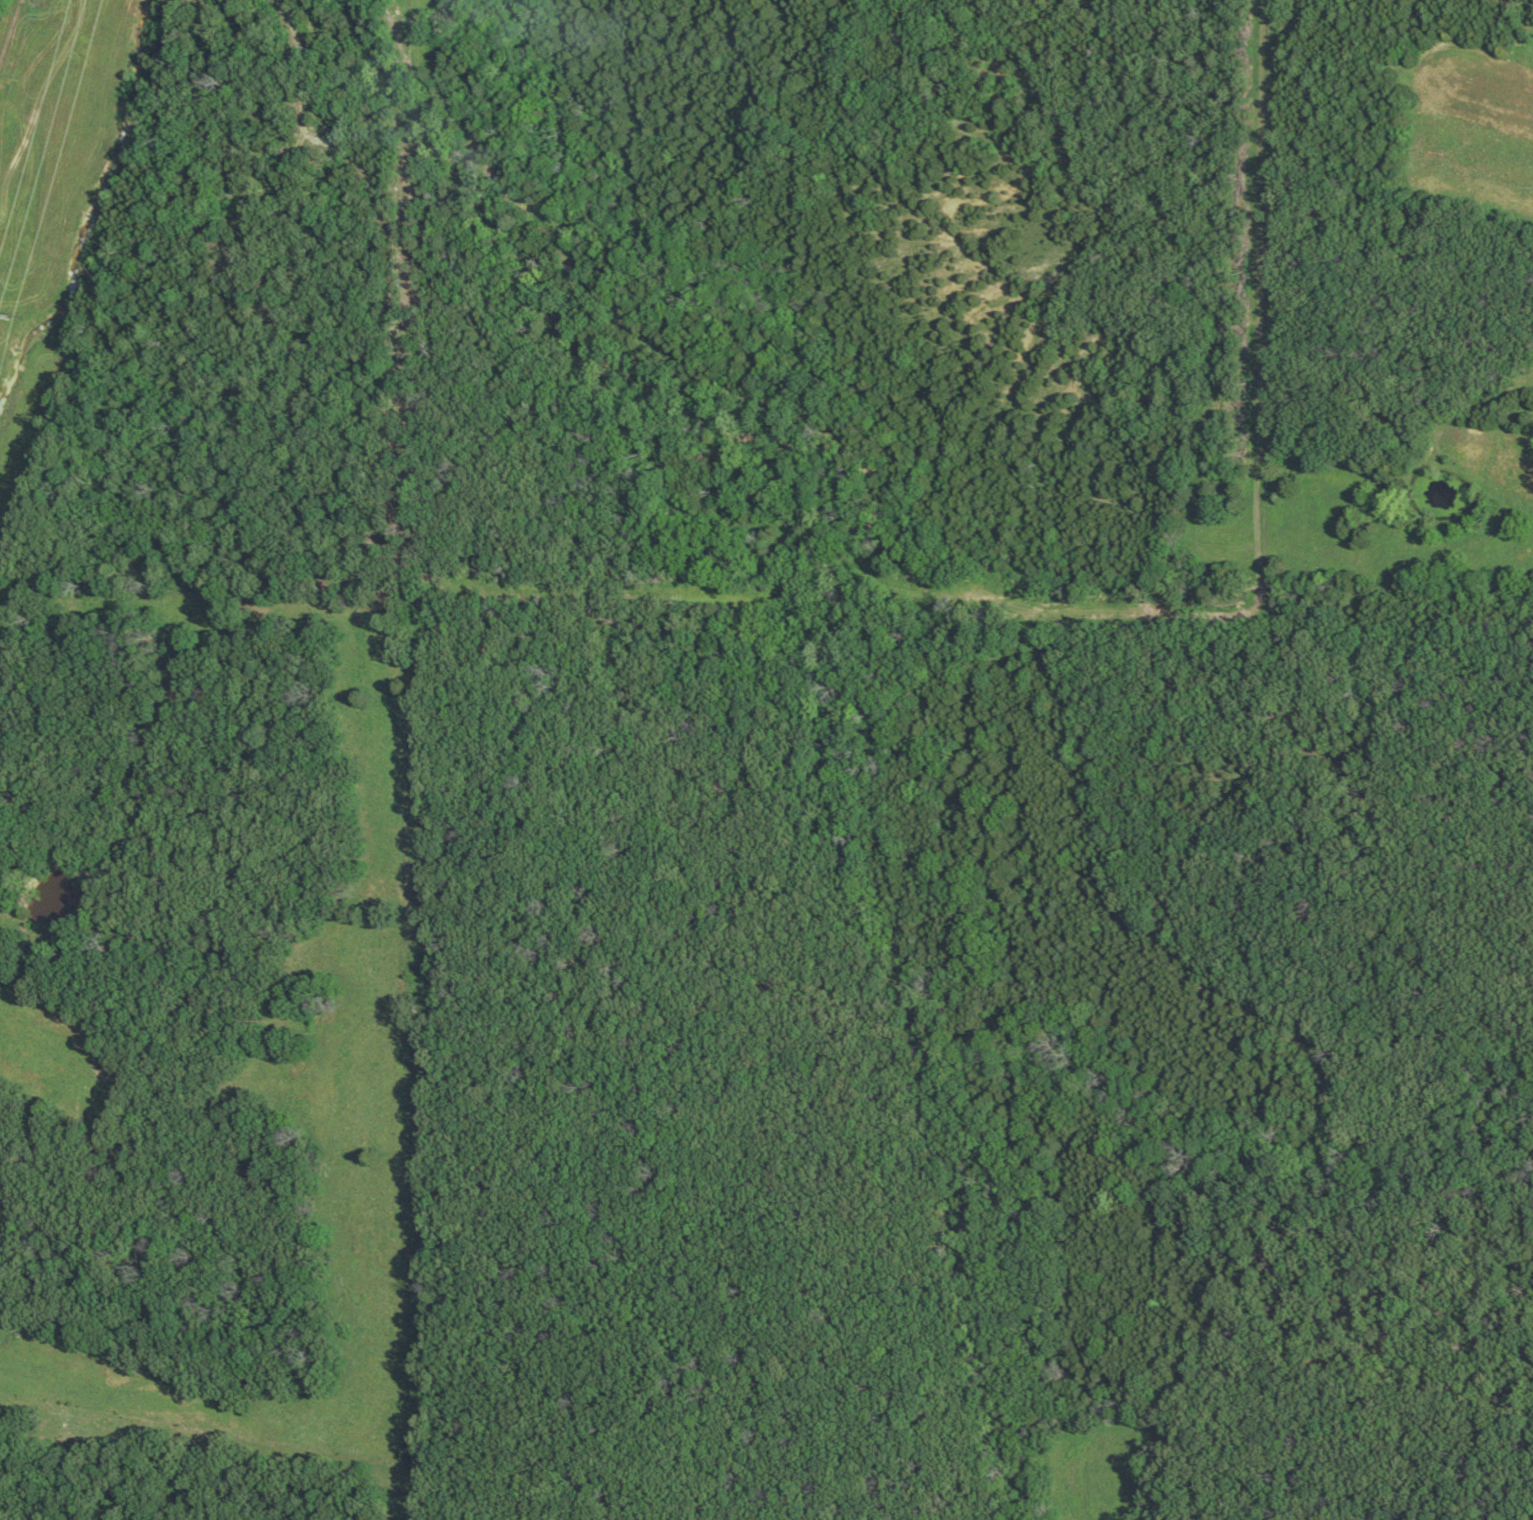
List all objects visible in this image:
power tower: (8, 313)

